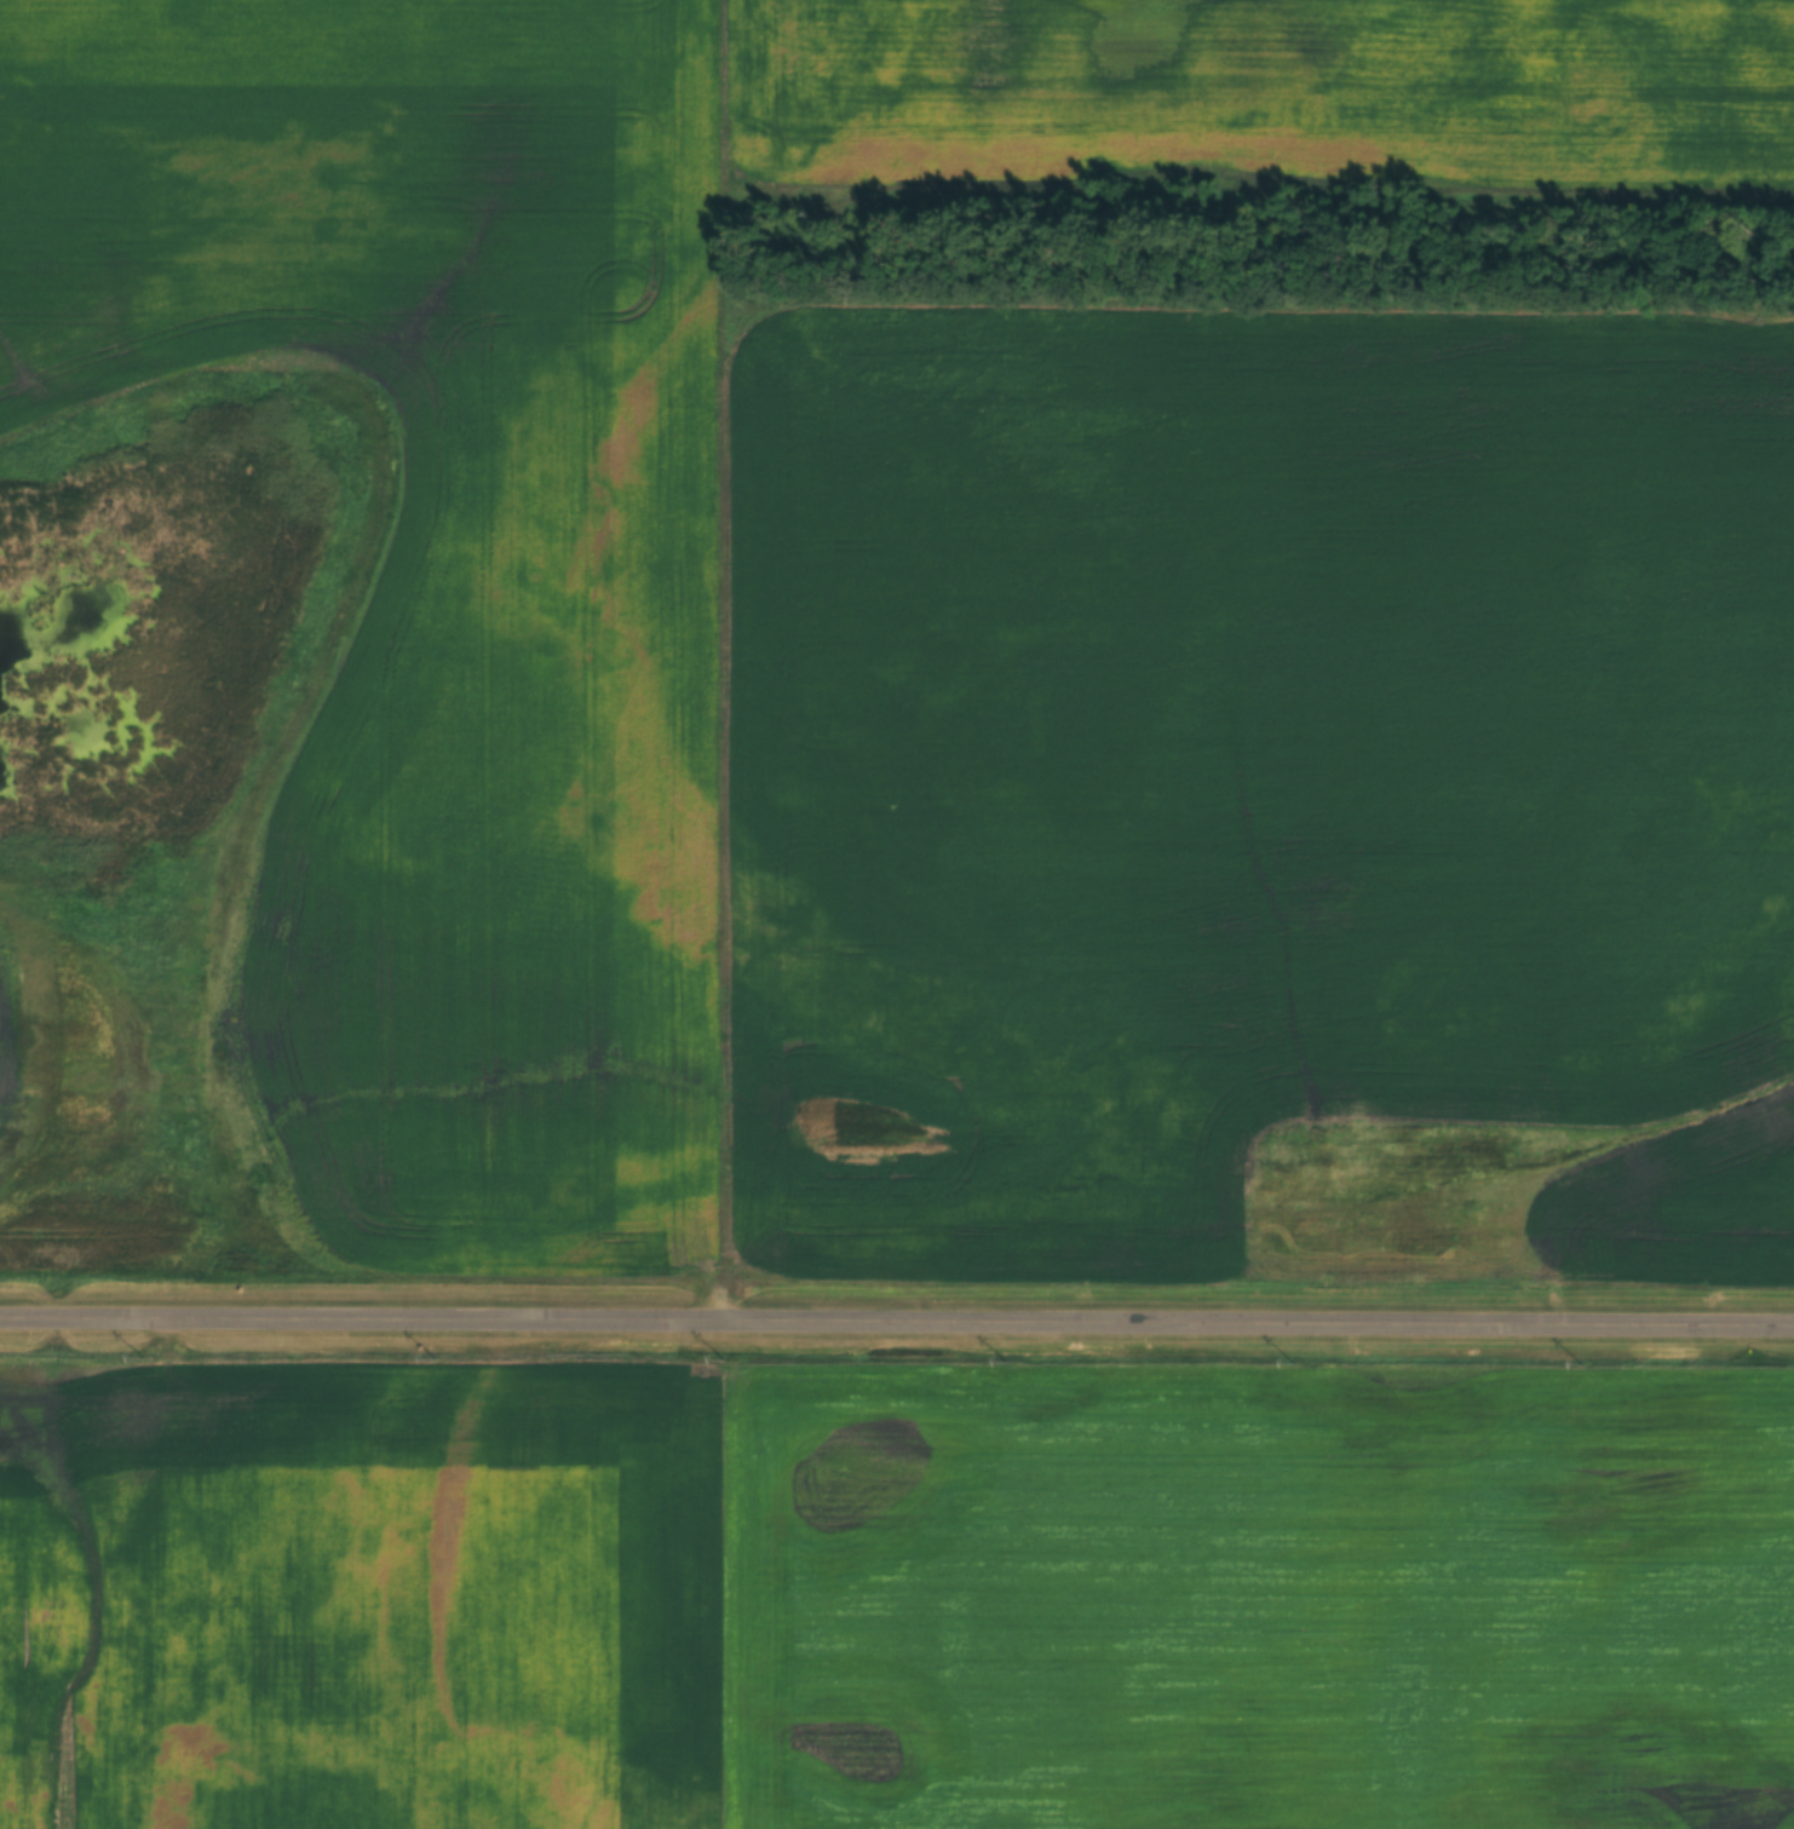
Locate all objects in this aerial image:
road: (897, 1325)

